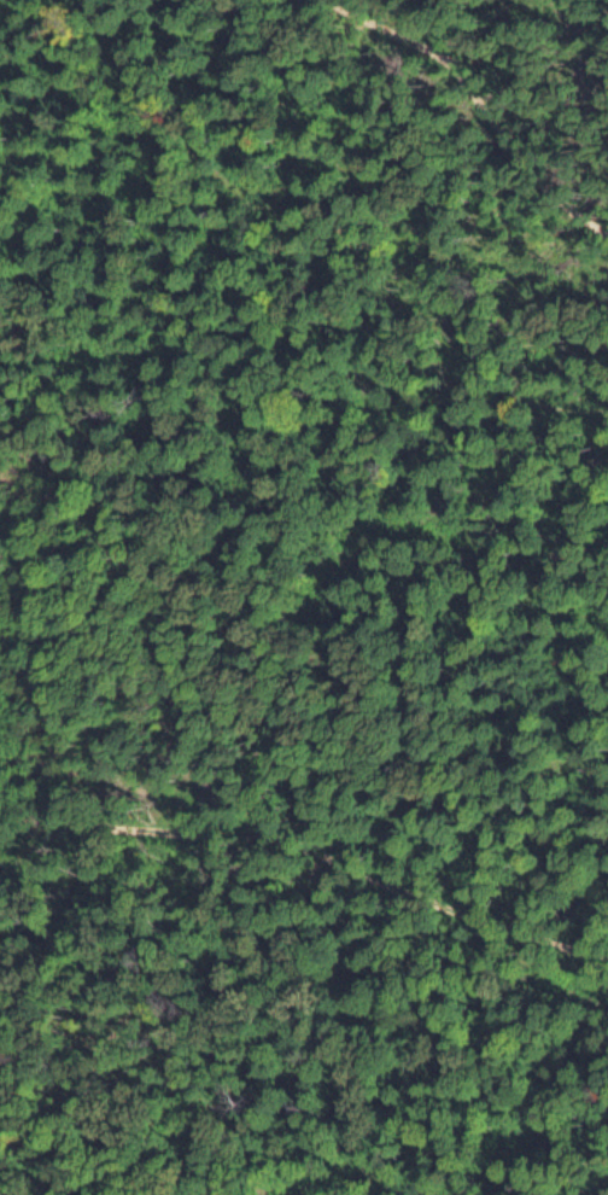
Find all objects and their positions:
road: (475, 106)

